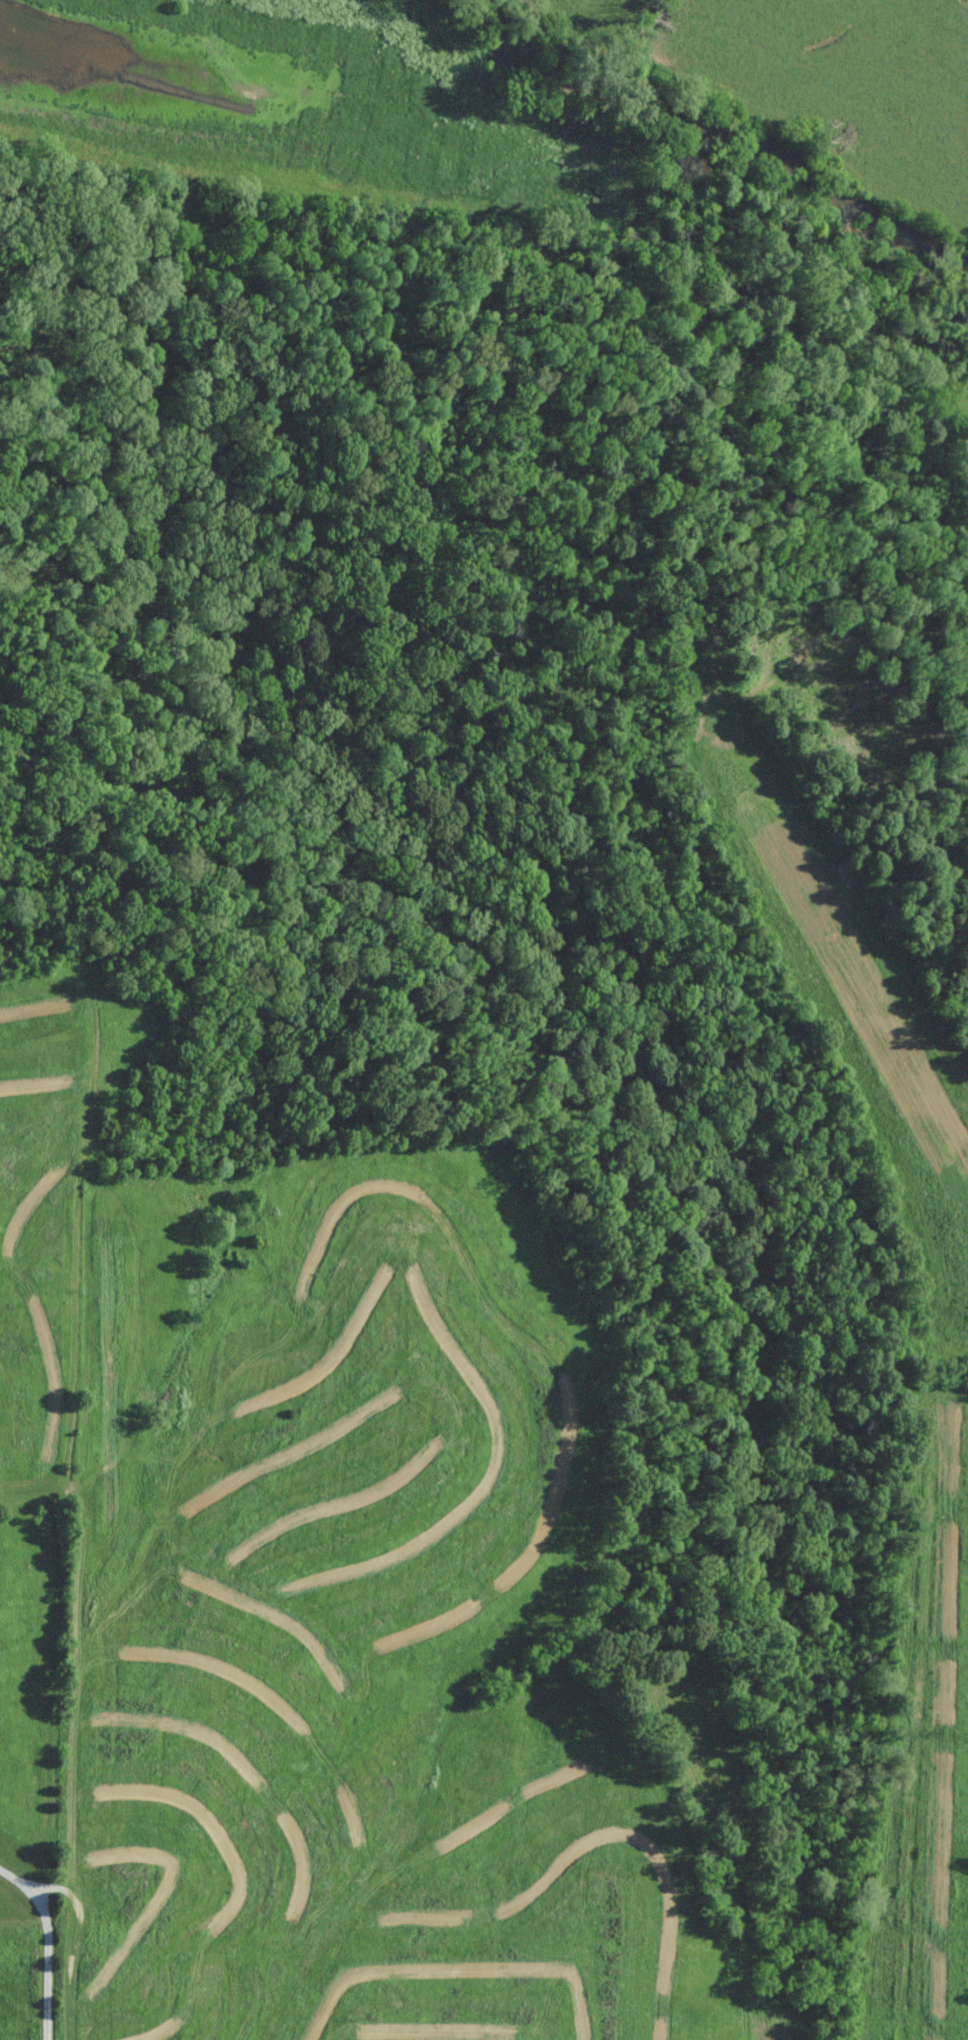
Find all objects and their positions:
road: (51, 1937)

